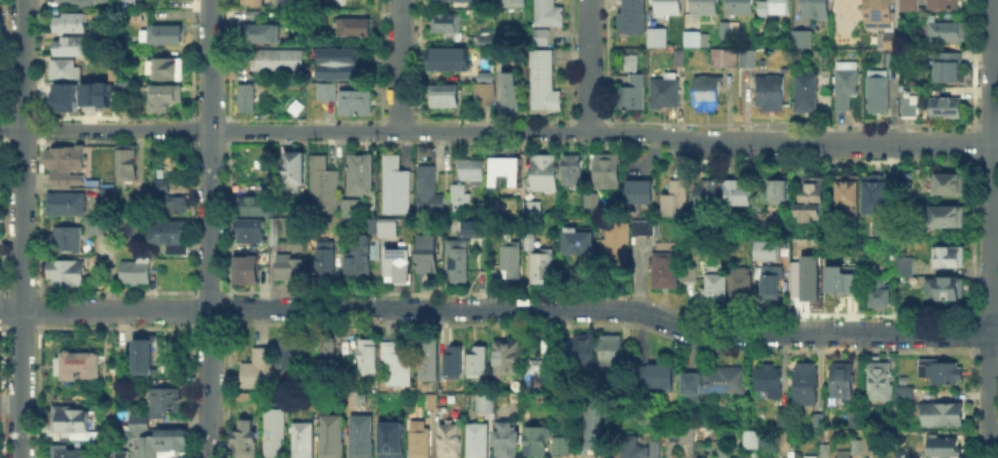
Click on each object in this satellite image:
building: (85, 1)
building: (455, 1)
building: (256, 2)
building: (512, 2)
building: (289, 3)
building: (947, 4)
building: (911, 6)
building: (671, 8)
building: (742, 8)
building: (776, 8)
building: (706, 9)
building: (817, 9)
building: (546, 13)
building: (254, 14)
building: (633, 17)
building: (71, 22)
building: (883, 22)
building: (447, 25)
building: (354, 28)
building: (731, 32)
building: (260, 34)
building: (945, 34)
building: (165, 35)
building: (538, 35)
building: (101, 36)
building: (660, 38)
building: (693, 40)
building: (804, 42)
building: (488, 43)
building: (72, 48)
building: (101, 58)
building: (680, 58)
building: (726, 58)
building: (280, 60)
building: (450, 60)
building: (749, 60)
building: (894, 61)
building: (340, 64)
building: (632, 64)
road: (399, 66)
road: (590, 66)
building: (63, 68)
building: (168, 69)
building: (947, 69)
building: (546, 82)
building: (121, 85)
building: (847, 86)
building: (486, 90)
building: (328, 92)
building: (807, 92)
building: (878, 92)
building: (95, 93)
building: (512, 93)
building: (666, 93)
building: (771, 93)
building: (632, 95)
building: (708, 95)
building: (64, 96)
building: (168, 98)
building: (445, 98)
building: (248, 99)
building: (357, 104)
building: (910, 108)
building: (947, 108)
road: (499, 132)
building: (129, 165)
building: (67, 167)
building: (472, 168)
building: (297, 169)
building: (508, 171)
building: (573, 171)
building: (608, 172)
building: (546, 173)
building: (362, 177)
building: (950, 184)
building: (161, 186)
building: (397, 186)
building: (324, 188)
building: (780, 190)
building: (430, 192)
building: (642, 192)
building: (738, 193)
building: (849, 193)
building: (109, 194)
building: (459, 194)
building: (707, 194)
building: (879, 198)
building: (677, 200)
building: (812, 200)
building: (590, 201)
building: (66, 202)
building: (172, 205)
building: (256, 207)
building: (536, 208)
building: (353, 210)
building: (950, 217)
building: (102, 227)
building: (128, 227)
building: (385, 227)
road: (23, 229)
road: (211, 229)
building: (647, 229)
road: (992, 229)
building: (252, 231)
building: (274, 233)
building: (170, 236)
building: (68, 240)
building: (532, 241)
building: (579, 243)
building: (617, 248)
building: (768, 251)
building: (359, 252)
building: (429, 254)
building: (951, 258)
building: (512, 261)
building: (328, 262)
building: (397, 262)
building: (460, 262)
building: (291, 267)
building: (907, 268)
building: (545, 269)
building: (136, 270)
building: (249, 271)
building: (66, 272)
building: (672, 273)
building: (773, 283)
building: (846, 284)
building: (815, 285)
building: (743, 286)
building: (944, 290)
street lamp: (7, 291)
building: (716, 291)
building: (883, 295)
road: (500, 309)
building: (613, 351)
building: (586, 353)
building: (146, 354)
building: (331, 356)
building: (369, 356)
building: (290, 357)
building: (508, 358)
building: (430, 361)
building: (479, 362)
building: (455, 363)
building: (75, 365)
building: (397, 365)
building: (545, 365)
building: (259, 369)
building: (943, 373)
building: (659, 375)
building: (843, 380)
building: (717, 382)
building: (771, 382)
building: (883, 382)
building: (807, 384)
building: (907, 395)
building: (166, 399)
road: (11, 401)
building: (433, 402)
building: (943, 414)
building: (69, 418)
building: (783, 418)
building: (141, 420)
building: (855, 420)
building: (821, 422)
building: (597, 427)
building: (273, 431)
building: (689, 435)
building: (332, 436)
building: (362, 436)
building: (245, 439)
building: (303, 440)
building: (420, 440)
building: (450, 440)
building: (477, 440)
building: (508, 441)
building: (537, 441)
building: (753, 441)
building: (789, 441)
building: (163, 443)
building: (872, 443)
building: (391, 444)
building: (562, 446)
building: (859, 446)
building: (947, 447)
building: (640, 449)
building: (70, 451)
building: (725, 451)
building: (825, 452)
building: (115, 454)
building: (907, 454)
building: (808, 456)
building: (701, 457)
building: (851, 457)

